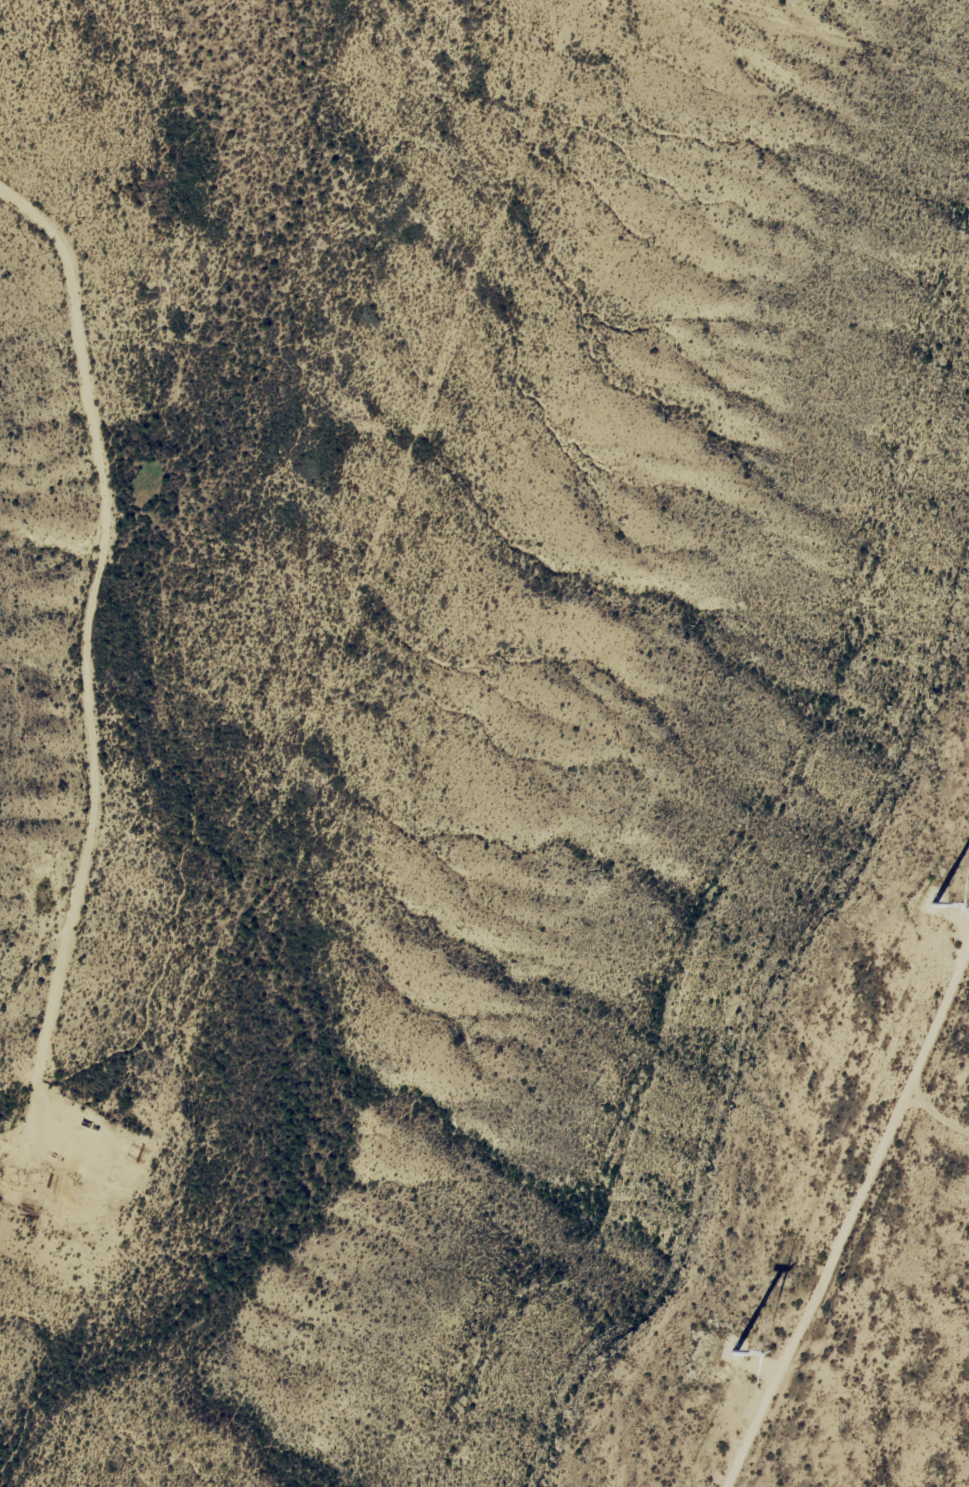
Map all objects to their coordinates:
wind turbine: (925, 906)
wind turbine: (731, 1339)

